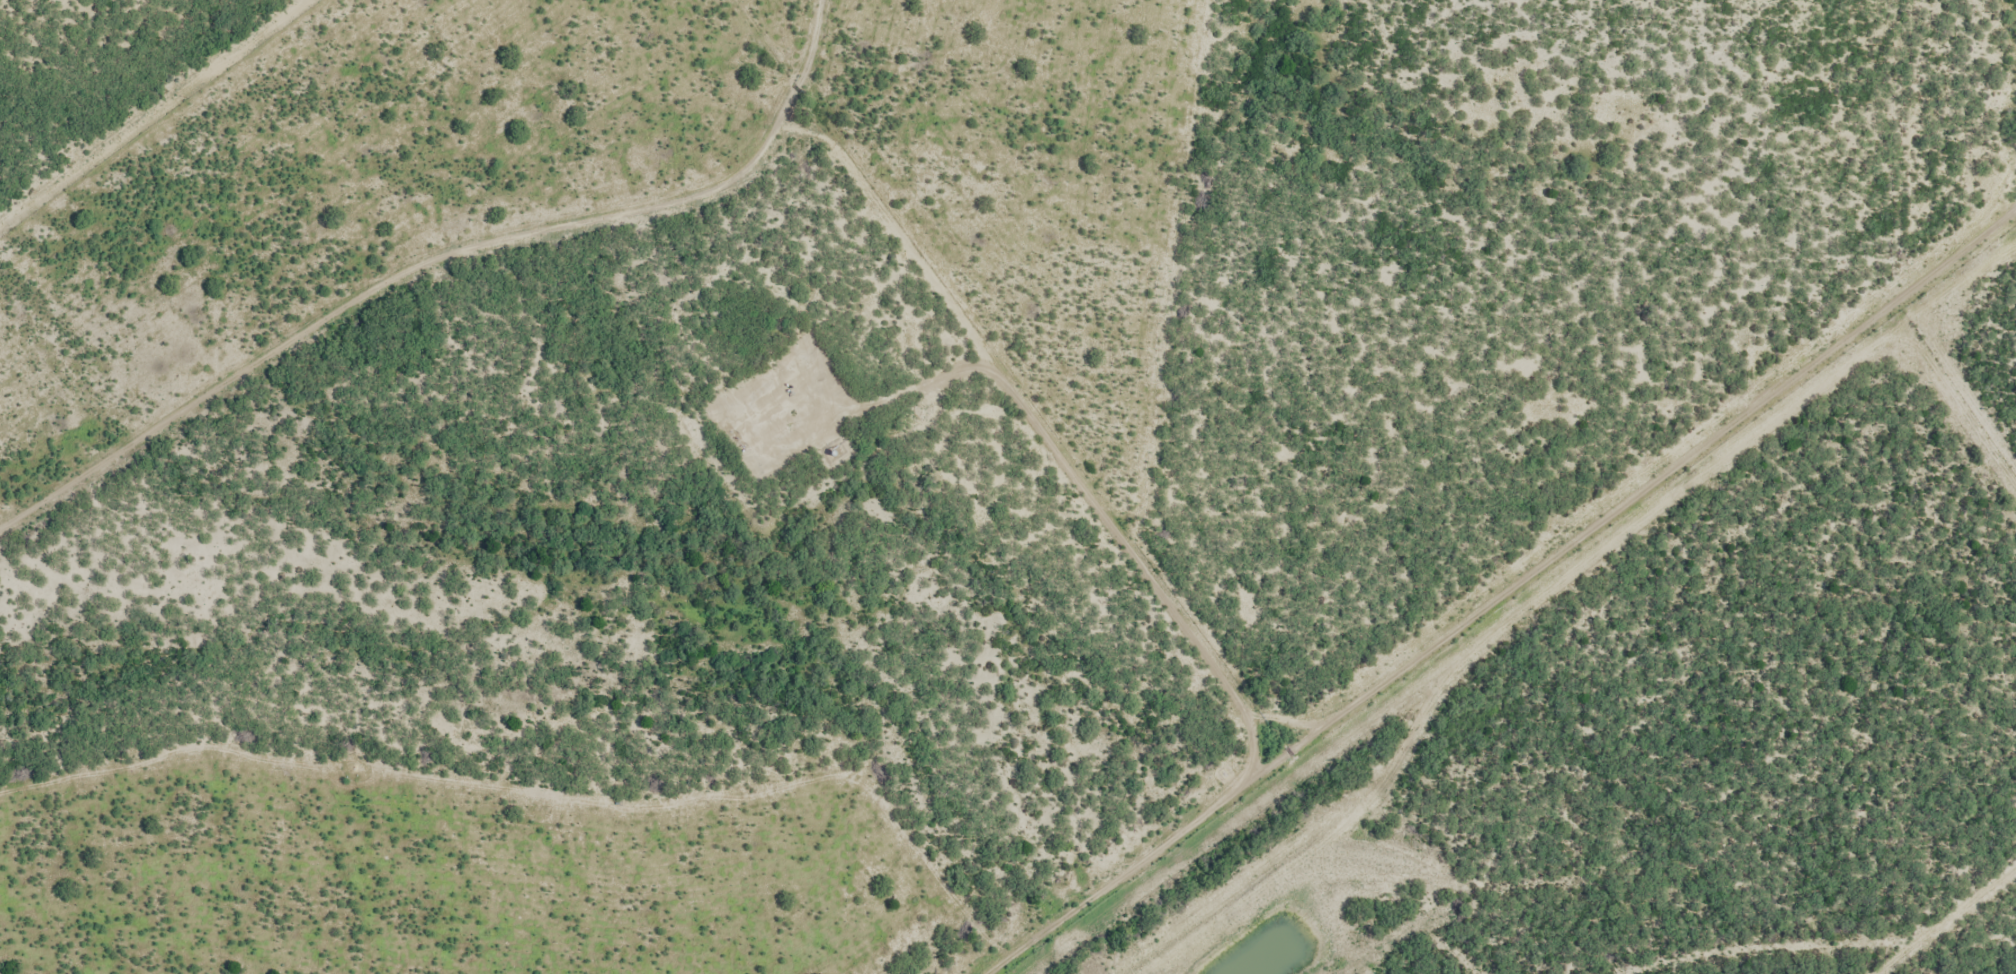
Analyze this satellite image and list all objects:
road: (184, 136)
road: (448, 254)

